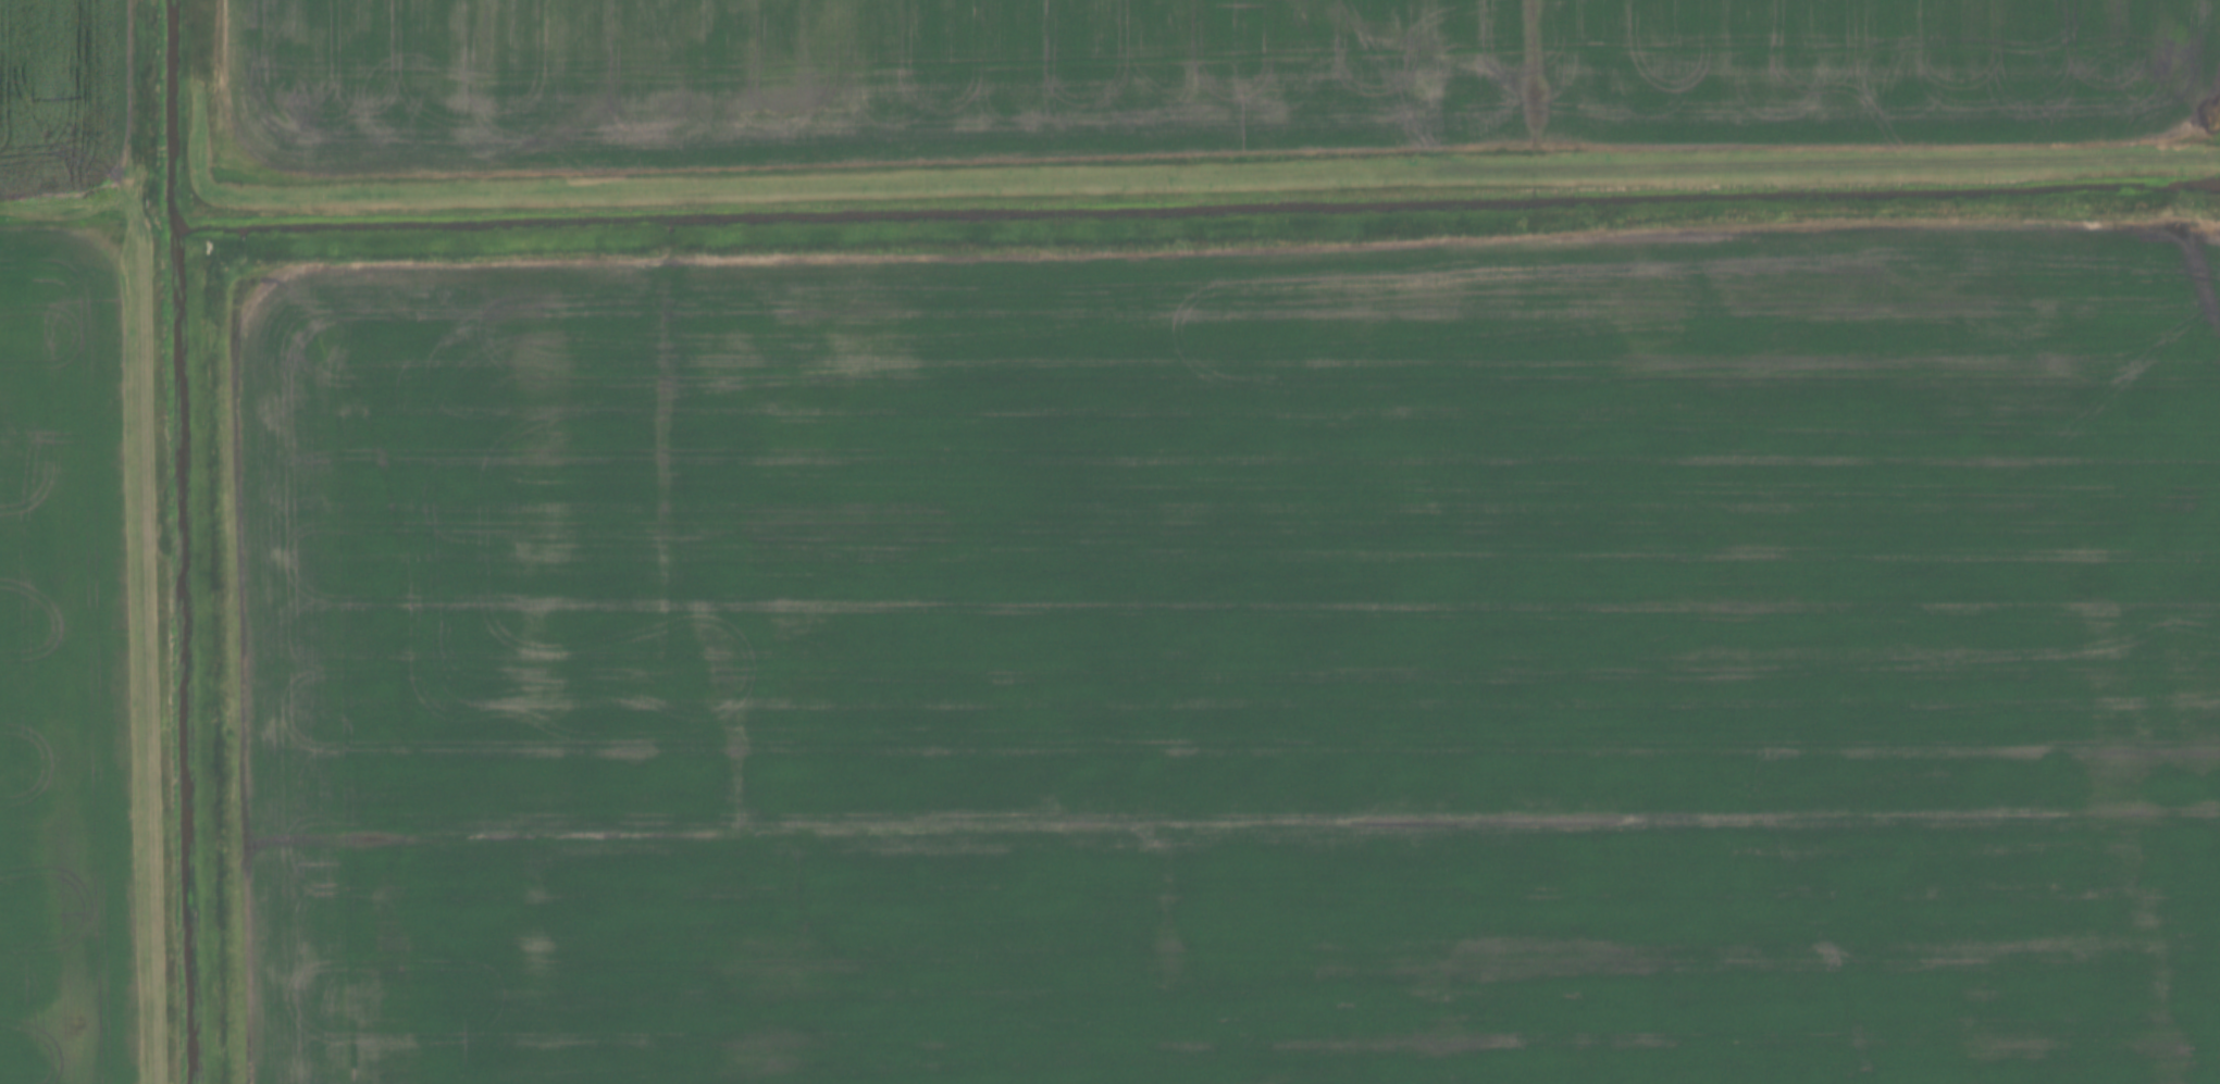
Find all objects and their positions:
road: (1223, 178)
road: (71, 203)
road: (148, 541)

